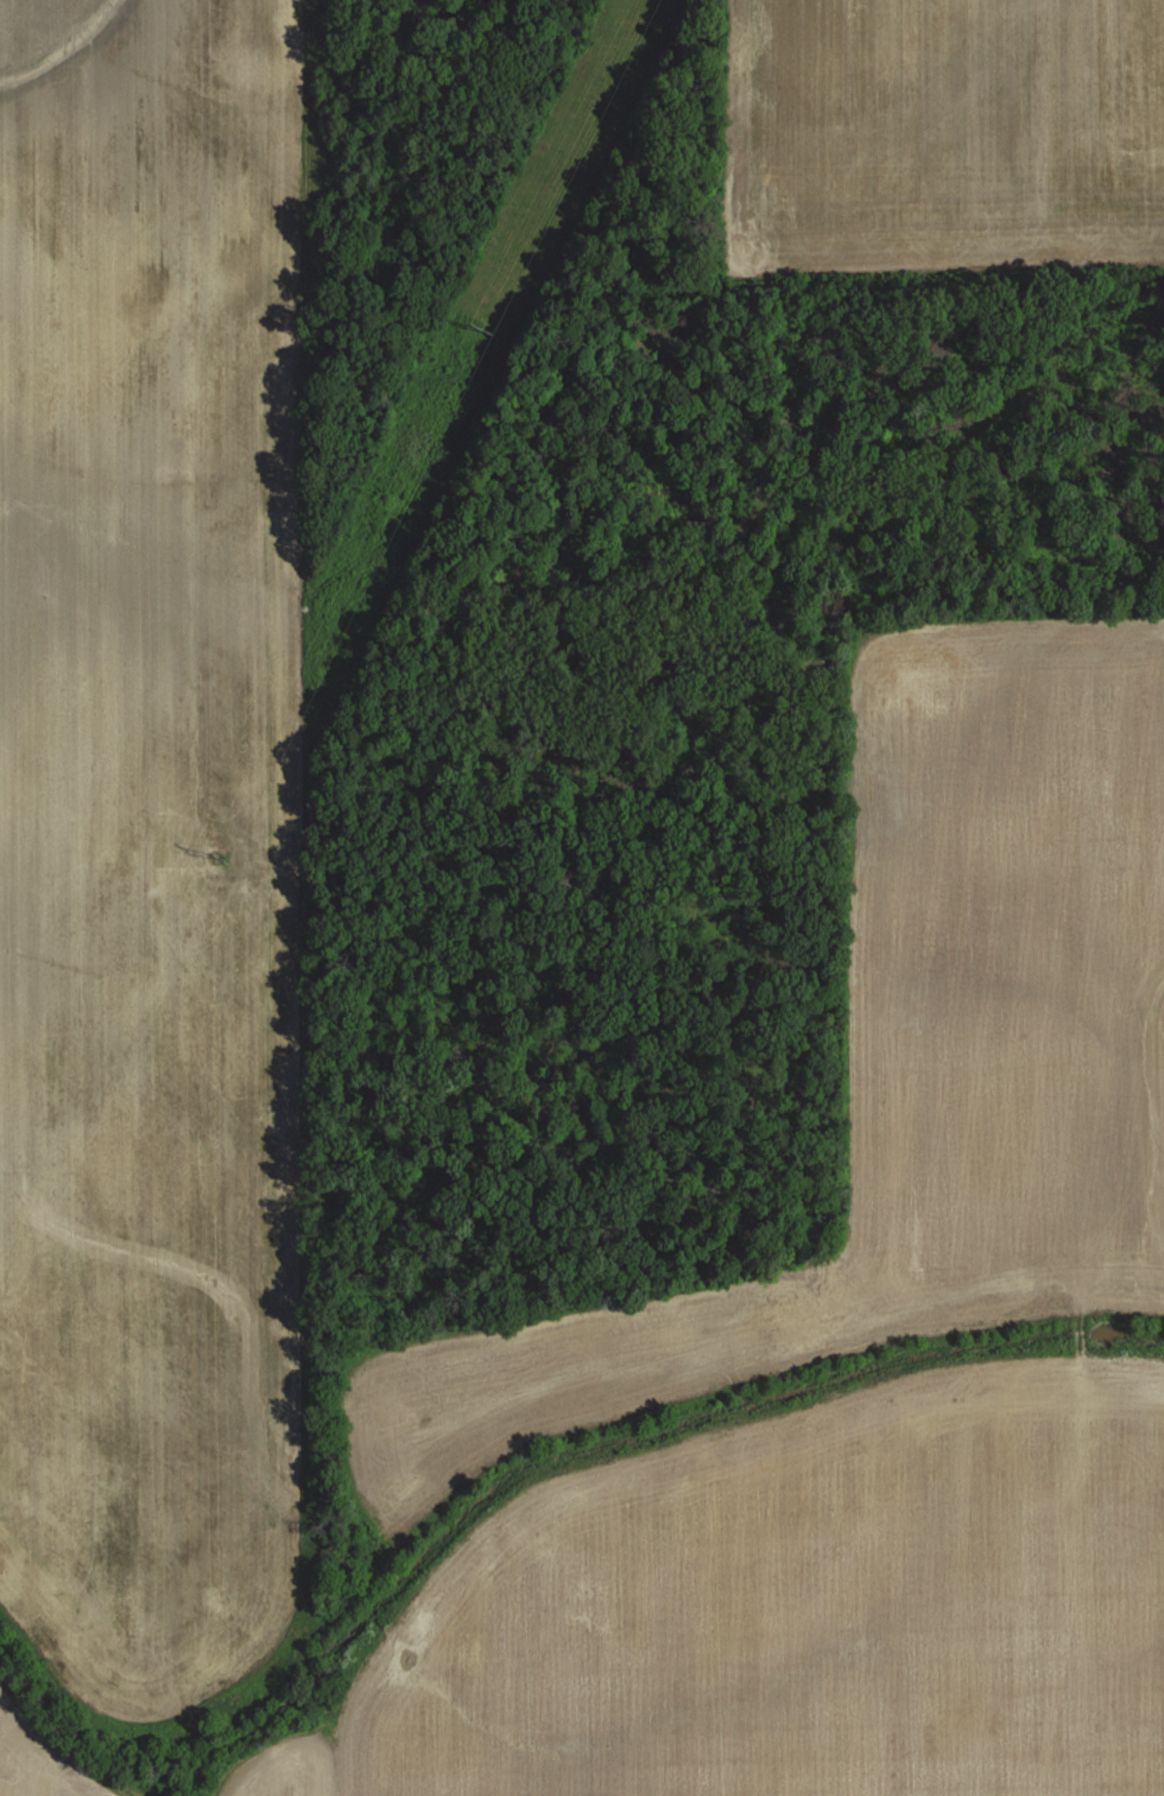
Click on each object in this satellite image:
power tower: (488, 336)
power tower: (221, 859)

